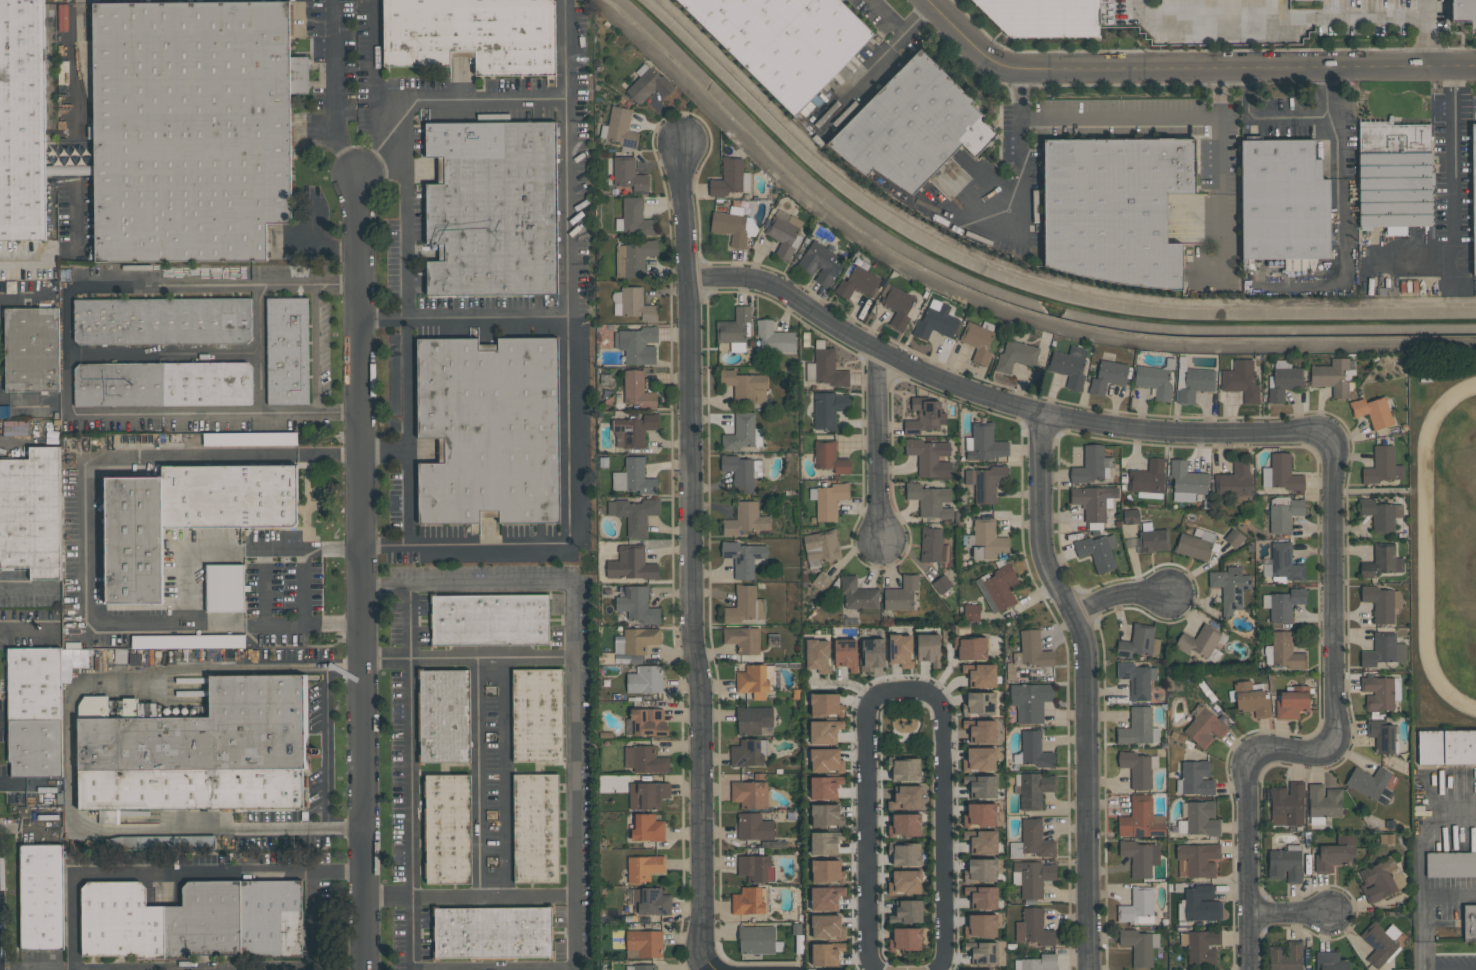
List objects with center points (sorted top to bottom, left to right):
building: (1463, 12)
building: (1044, 18)
road: (1277, 18)
road: (901, 24)
road: (1428, 32)
building: (472, 35)
road: (898, 35)
building: (784, 41)
road: (1188, 67)
road: (862, 75)
road: (1329, 76)
building: (648, 84)
road: (336, 92)
road: (437, 92)
road: (1454, 95)
road: (1093, 117)
road: (1265, 117)
railway: (52, 119)
building: (22, 120)
building: (912, 126)
building: (192, 128)
building: (620, 129)
building: (66, 162)
road: (1217, 170)
building: (628, 173)
building: (1394, 176)
building: (730, 177)
road: (1019, 177)
road: (1341, 182)
building: (1473, 195)
building: (1283, 201)
building: (492, 207)
building: (1115, 208)
road: (1452, 216)
building: (634, 218)
building: (734, 226)
building: (784, 234)
building: (633, 258)
road: (23, 260)
building: (820, 263)
building: (1291, 265)
road: (407, 267)
building: (857, 281)
road: (23, 300)
building: (632, 303)
road: (983, 303)
building: (899, 306)
road: (465, 319)
building: (162, 321)
building: (936, 321)
building: (735, 328)
building: (774, 337)
building: (978, 340)
building: (637, 344)
road: (315, 347)
road: (258, 348)
building: (31, 349)
road: (71, 350)
building: (287, 351)
building: (1016, 355)
road: (572, 356)
building: (1069, 366)
building: (825, 367)
building: (1108, 376)
building: (1333, 376)
building: (1282, 379)
building: (1241, 380)
building: (1154, 381)
building: (1191, 381)
building: (163, 383)
building: (745, 386)
building: (637, 390)
road: (994, 398)
road: (26, 405)
building: (828, 408)
building: (1373, 411)
building: (925, 415)
building: (633, 430)
building: (488, 431)
building: (742, 432)
building: (249, 439)
building: (984, 443)
road: (878, 444)
building: (929, 456)
building: (829, 457)
building: (1091, 465)
building: (1382, 465)
building: (738, 472)
building: (1280, 474)
building: (633, 476)
building: (1148, 479)
building: (1187, 481)
building: (986, 482)
building: (1235, 483)
road: (1377, 491)
road: (88, 494)
building: (828, 499)
building: (930, 500)
building: (1094, 503)
building: (31, 513)
building: (634, 514)
building: (1283, 514)
building: (1380, 514)
building: (185, 515)
building: (1131, 516)
building: (745, 519)
building: (1152, 538)
building: (1233, 538)
building: (986, 540)
building: (1197, 544)
building: (933, 545)
road: (385, 546)
building: (821, 547)
road: (190, 549)
building: (1097, 550)
building: (744, 557)
road: (690, 559)
building: (1382, 561)
building: (1284, 562)
building: (630, 563)
road: (360, 575)
building: (821, 582)
building: (941, 584)
road: (266, 586)
road: (301, 586)
building: (224, 587)
building: (998, 588)
building: (1230, 588)
road: (27, 589)
building: (901, 593)
building: (858, 594)
road: (1118, 594)
building: (1382, 602)
building: (637, 604)
building: (1283, 604)
building: (744, 605)
building: (971, 612)
building: (489, 619)
road: (27, 627)
building: (742, 639)
building: (635, 640)
building: (202, 641)
building: (1138, 642)
building: (1203, 642)
building: (928, 648)
building: (970, 648)
building: (900, 650)
building: (1032, 650)
building: (1383, 650)
building: (1283, 651)
building: (872, 653)
building: (845, 654)
building: (818, 655)
road: (468, 659)
road: (212, 668)
road: (575, 668)
building: (980, 674)
building: (645, 679)
building: (1137, 679)
building: (757, 680)
road: (1085, 686)
road: (903, 688)
building: (1380, 692)
building: (1250, 698)
building: (1030, 700)
building: (1291, 701)
building: (979, 703)
building: (825, 704)
building: (37, 708)
building: (443, 715)
building: (537, 716)
building: (754, 720)
building: (649, 721)
building: (1138, 727)
building: (1204, 727)
building: (981, 730)
building: (824, 731)
building: (1382, 736)
road: (1332, 740)
road: (325, 746)
building: (1446, 747)
building: (199, 750)
building: (1033, 750)
building: (748, 752)
building: (645, 759)
building: (979, 759)
building: (826, 760)
building: (1138, 768)
building: (905, 769)
road: (409, 776)
road: (505, 776)
road: (479, 777)
building: (1195, 778)
building: (1371, 784)
building: (981, 785)
building: (825, 787)
building: (1032, 788)
building: (647, 794)
building: (749, 794)
building: (906, 797)
building: (1323, 802)
building: (1287, 804)
building: (980, 814)
building: (825, 815)
building: (1141, 818)
building: (1199, 818)
building: (905, 825)
building: (753, 826)
building: (647, 827)
building: (447, 828)
building: (535, 828)
road: (250, 829)
building: (1032, 840)
building: (981, 841)
building: (182, 842)
building: (825, 842)
building: (905, 853)
building: (1335, 853)
building: (1139, 857)
building: (1199, 859)
building: (1285, 863)
building: (1450, 863)
building: (644, 867)
building: (756, 868)
building: (980, 869)
building: (826, 871)
road: (174, 875)
building: (1032, 877)
building: (1380, 879)
building: (905, 881)
road: (470, 895)
building: (41, 896)
building: (982, 897)
building: (825, 898)
building: (749, 900)
building: (650, 901)
building: (1198, 904)
road: (1425, 905)
building: (1137, 906)
building: (909, 910)
road: (1289, 912)
building: (193, 920)
road: (310, 921)
building: (1469, 923)
building: (981, 925)
building: (827, 926)
building: (1033, 927)
building: (493, 932)
building: (906, 938)
building: (756, 939)
building: (643, 943)
building: (1380, 943)
building: (1139, 945)
building: (1200, 945)
building: (983, 952)
building: (826, 953)
building: (1285, 956)
building: (1330, 961)
building: (1036, 962)
road: (28, 966)
building: (641, 967)
road: (537, 969)
building: (982, 969)
building: (1401, 969)

